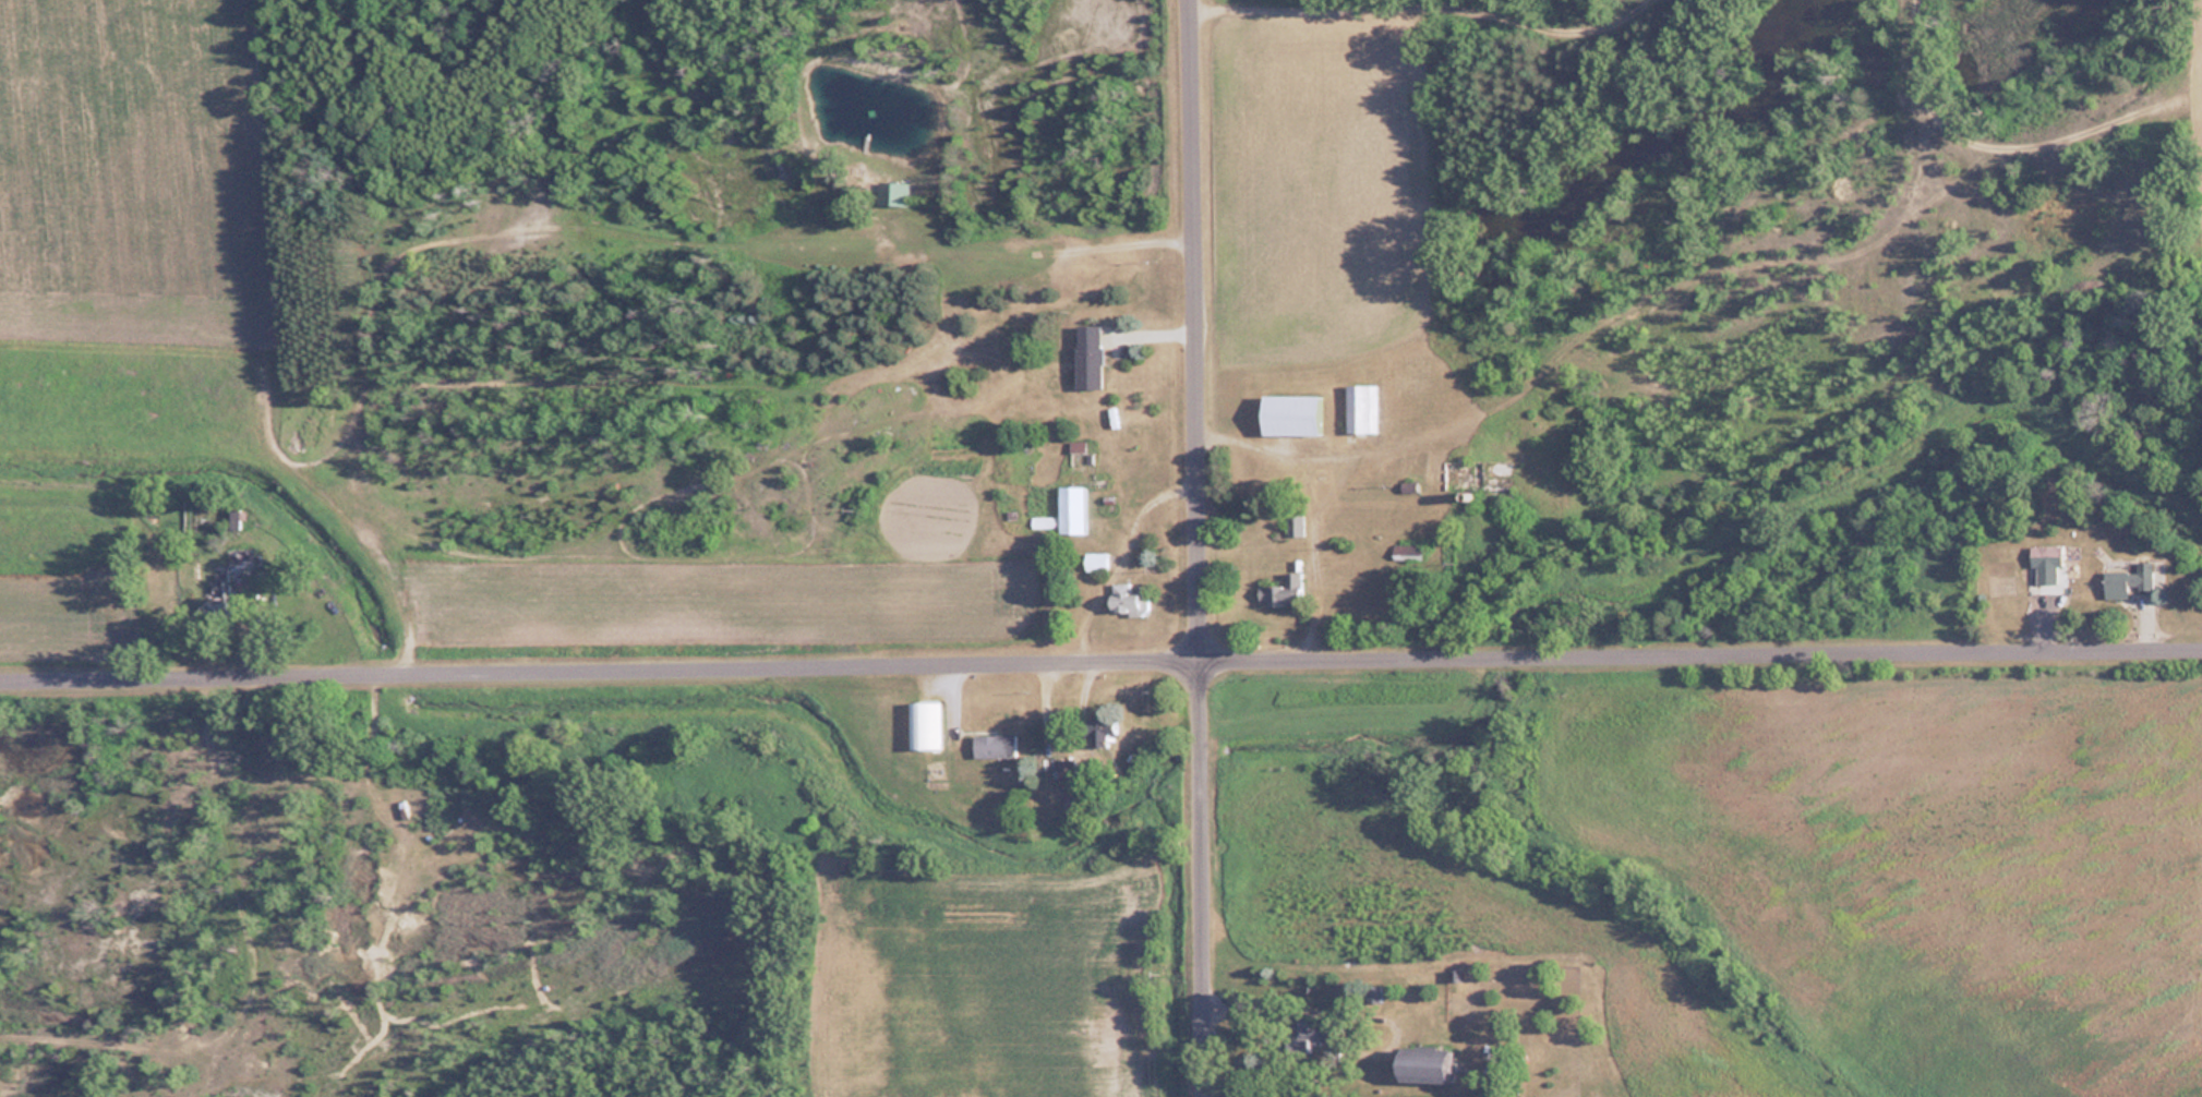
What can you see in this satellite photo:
building: (890, 193)
road: (1626, 325)
building: (1087, 357)
building: (1413, 379)
building: (1360, 409)
building: (1290, 414)
building: (1471, 479)
building: (1071, 509)
building: (230, 519)
building: (1295, 525)
road: (1200, 548)
building: (2045, 555)
building: (234, 557)
building: (1097, 560)
building: (2125, 581)
building: (1286, 591)
building: (1129, 599)
road: (1100, 666)
building: (924, 724)
building: (1099, 728)
building: (994, 745)
building: (1066, 768)
building: (1373, 991)
building: (1302, 1035)
building: (1420, 1065)

